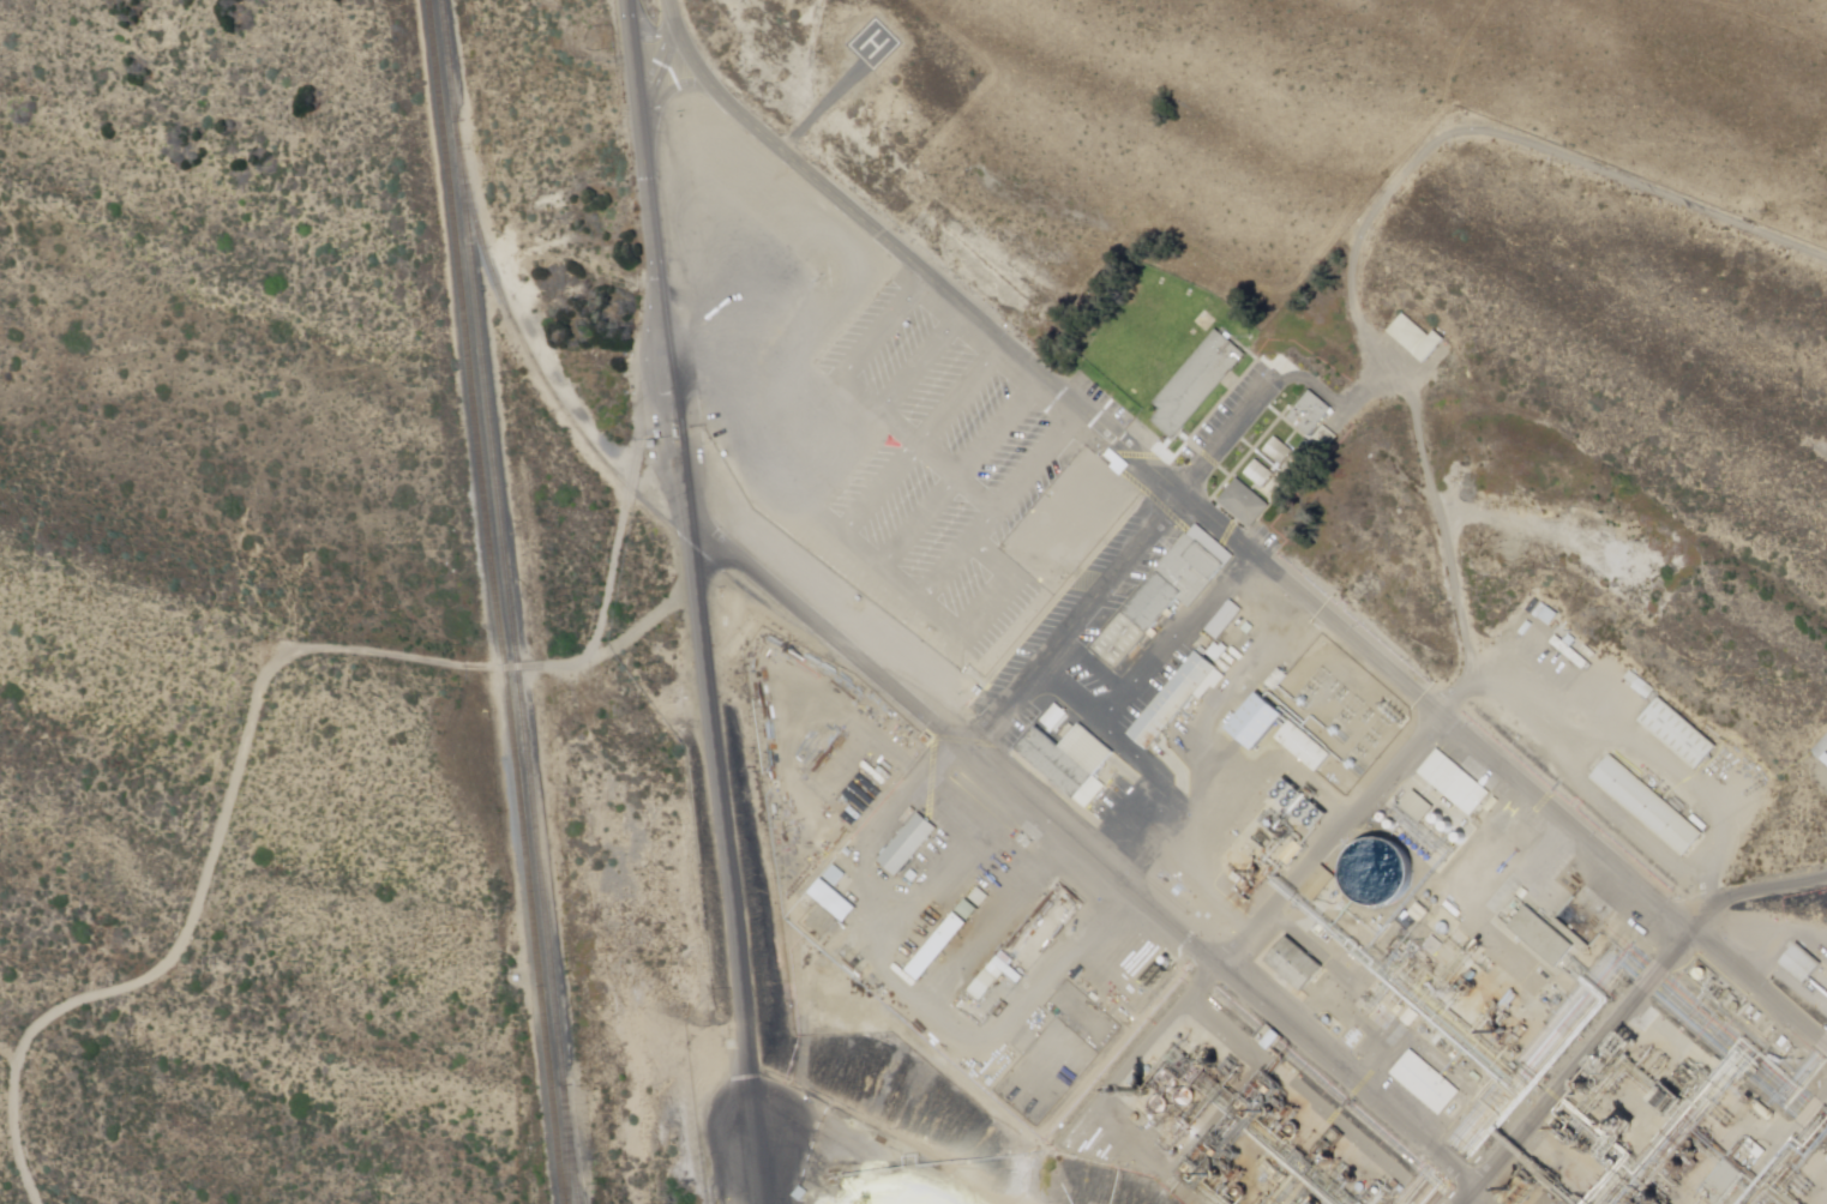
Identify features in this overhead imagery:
helipad: (876, 43)
road: (825, 106)
road: (908, 258)
building: (1413, 338)
building: (1195, 384)
building: (1309, 415)
building: (1321, 438)
building: (1278, 451)
building: (1116, 460)
building: (1258, 476)
road: (1432, 486)
building: (1243, 504)
road: (1113, 566)
building: (1162, 596)
railway: (499, 601)
railway: (510, 602)
road: (699, 602)
railway: (757, 602)
building: (1224, 622)
park: (214, 634)
building: (1238, 646)
road: (292, 651)
building: (1171, 703)
road: (1432, 712)
building: (1254, 717)
power substation: (1333, 717)
building: (1053, 718)
building: (1675, 733)
building: (1302, 748)
building: (1821, 750)
building: (1825, 760)
building: (1076, 765)
building: (1456, 788)
building: (1646, 806)
building: (1416, 807)
building: (909, 845)
building: (1372, 868)
building: (835, 873)
building: (912, 874)
building: (1316, 885)
building: (980, 895)
road: (1753, 895)
building: (831, 898)
building: (967, 907)
building: (1540, 939)
building: (939, 947)
building: (926, 951)
building: (1797, 964)
building: (1292, 965)
road: (1216, 969)
building: (993, 975)
road: (1759, 988)
building: (1424, 1084)
railway: (565, 1145)
road: (1470, 1198)

